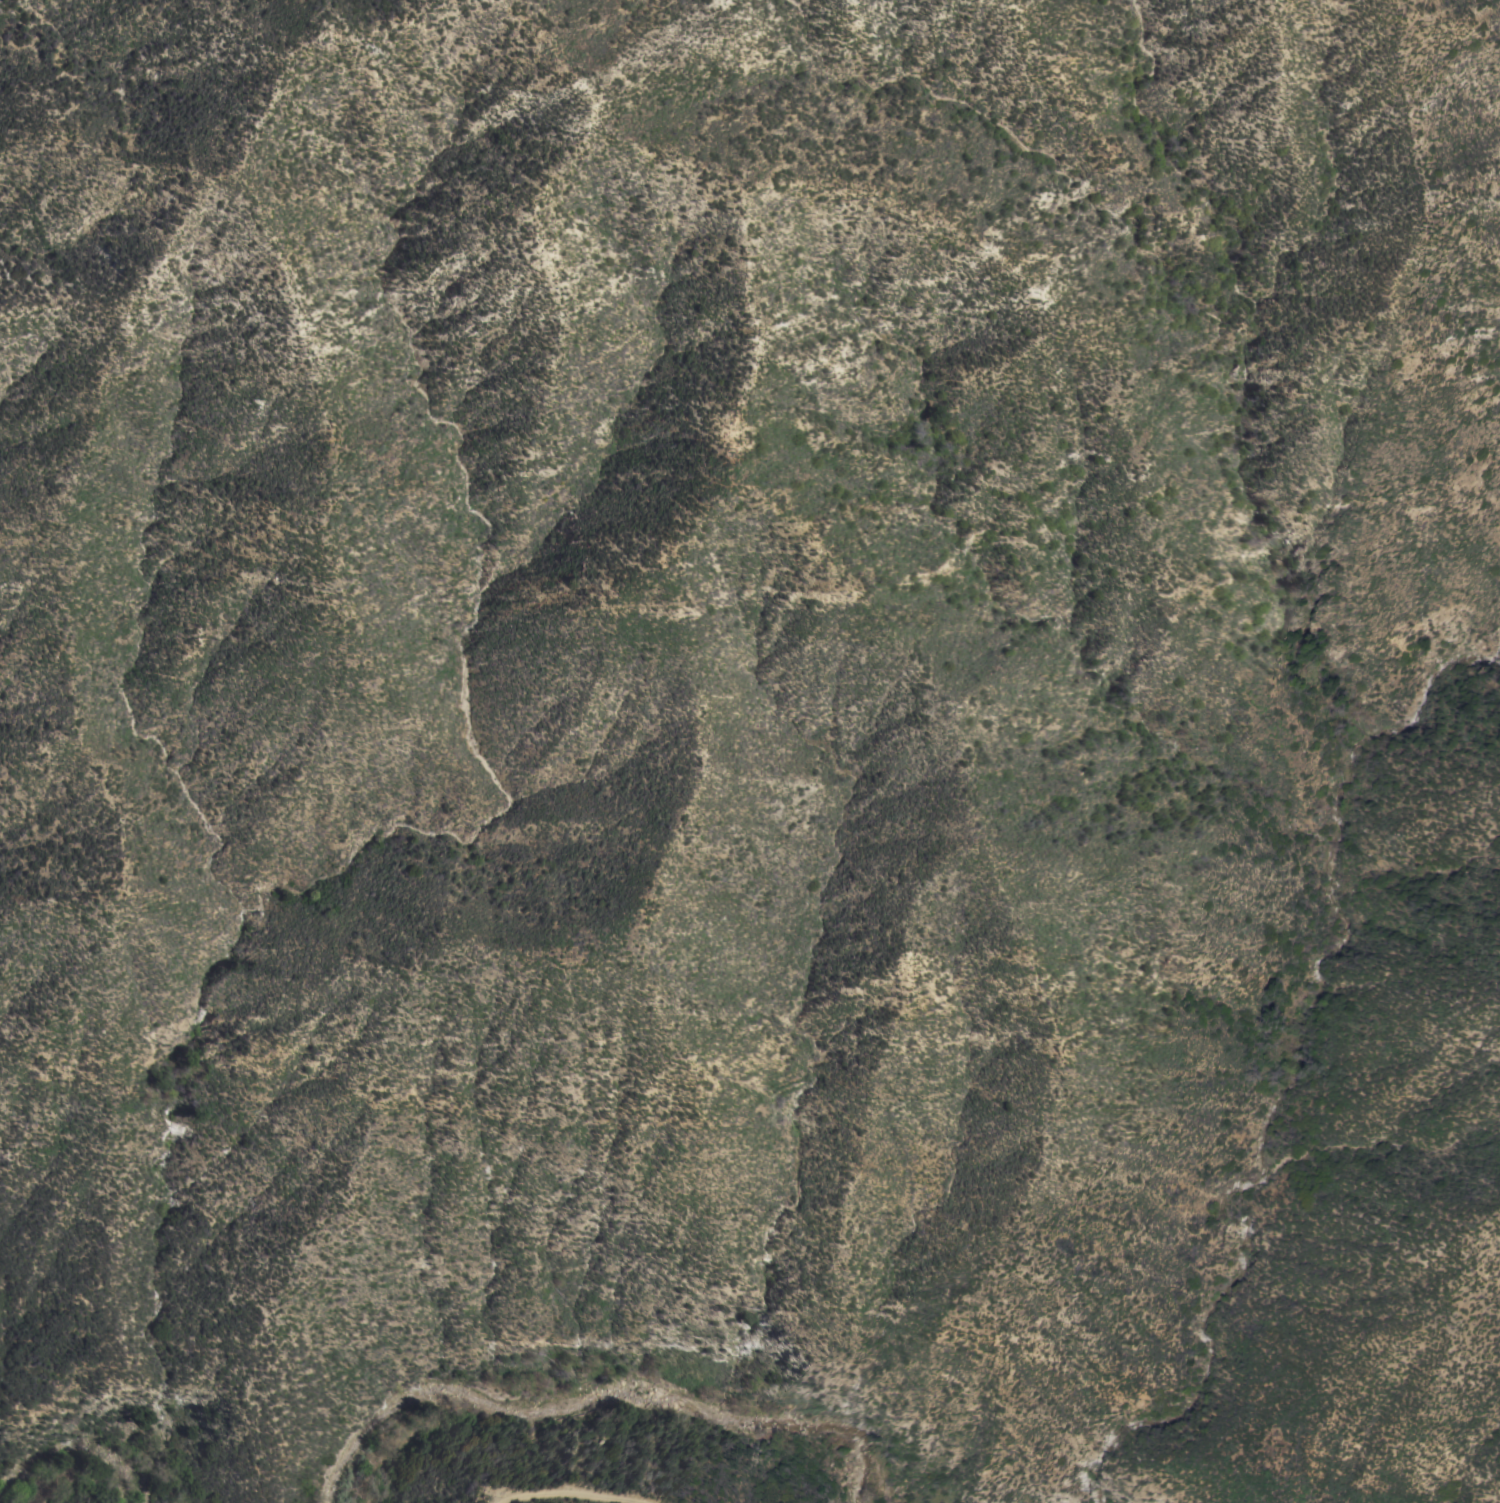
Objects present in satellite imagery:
road: (575, 1490)

